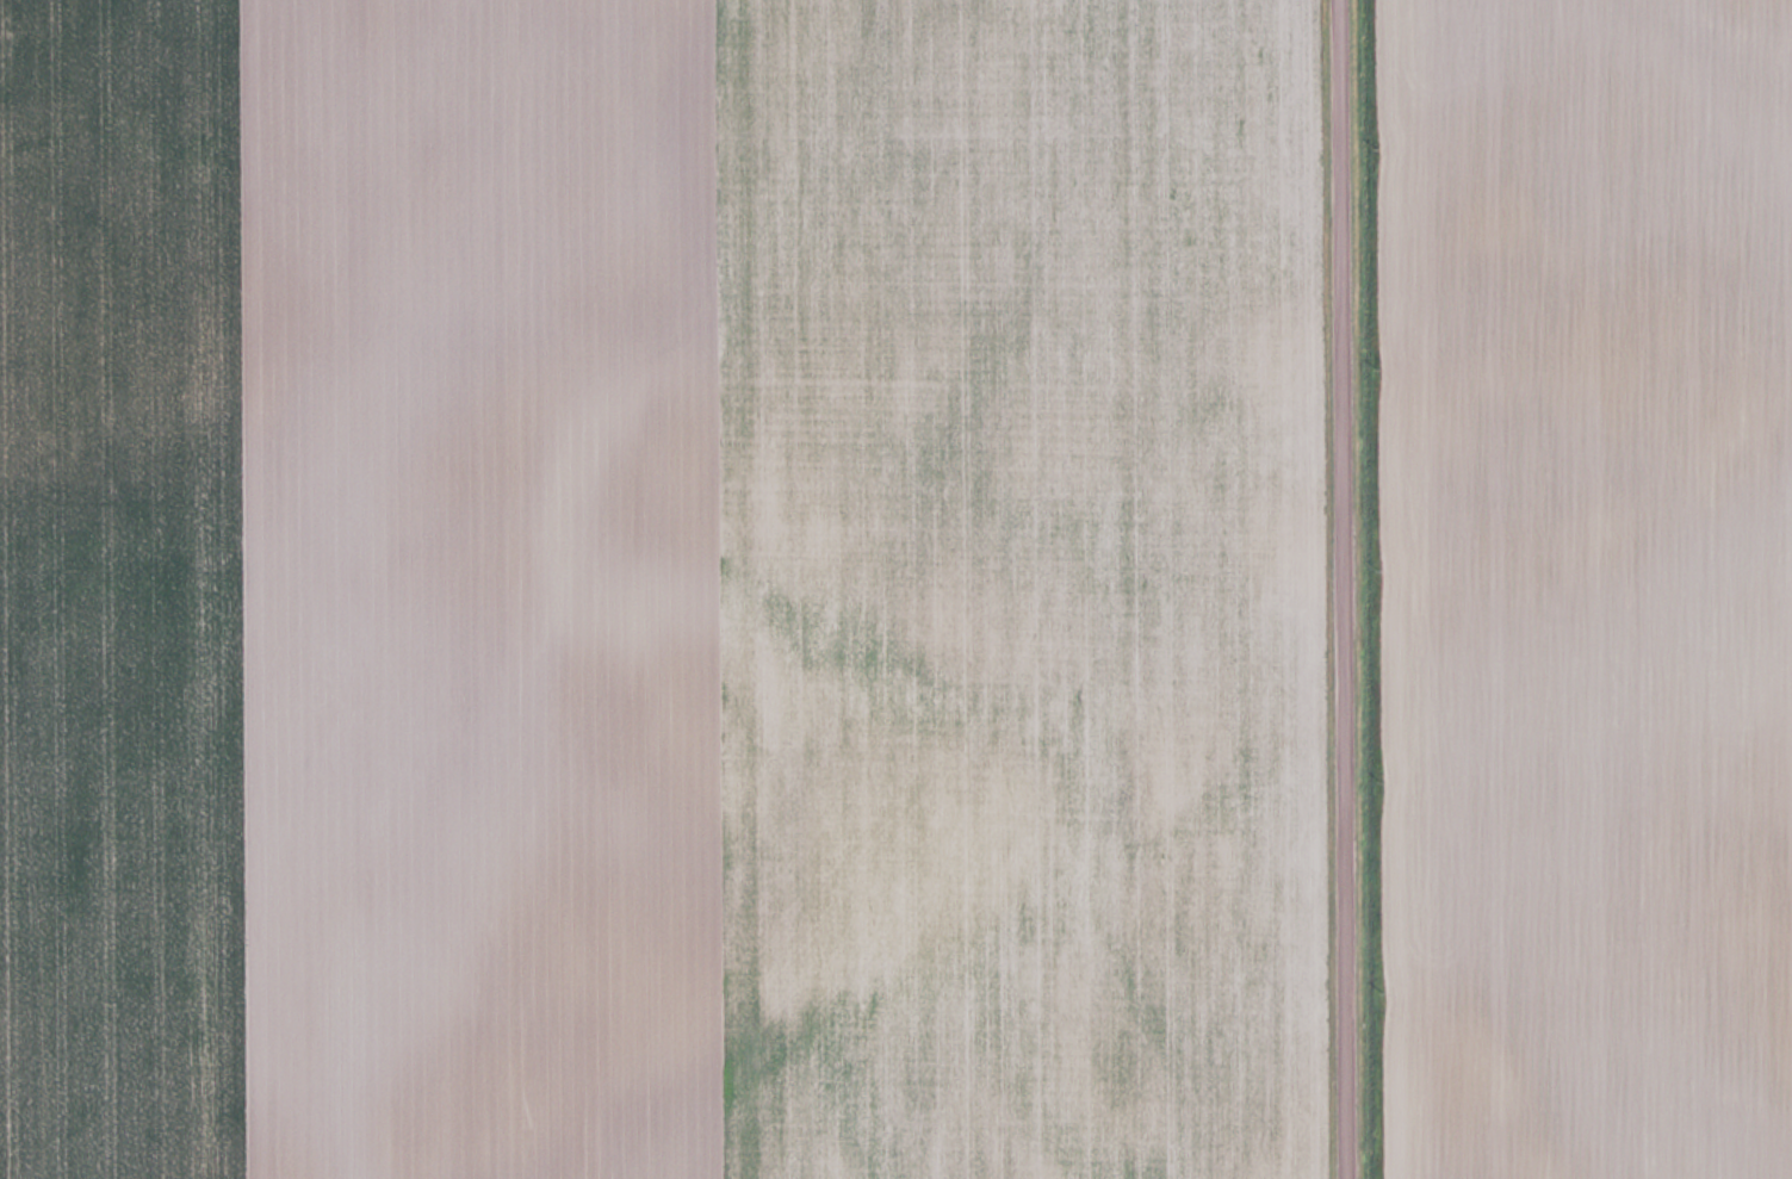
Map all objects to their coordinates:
road: (1343, 589)

